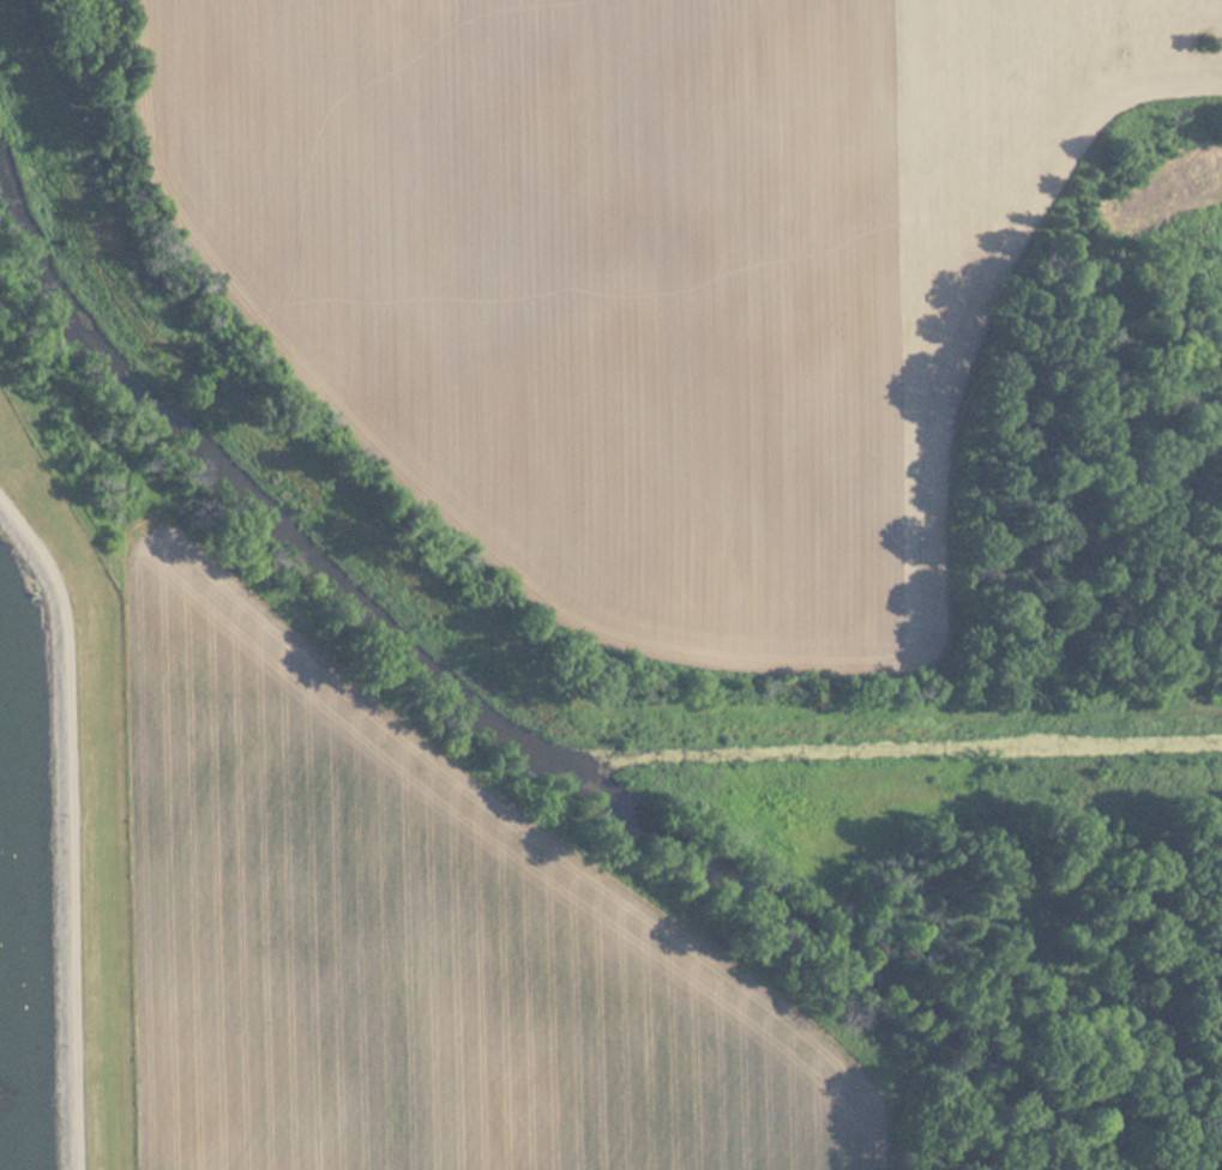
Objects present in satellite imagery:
road: (902, 705)
river: (495, 728)

